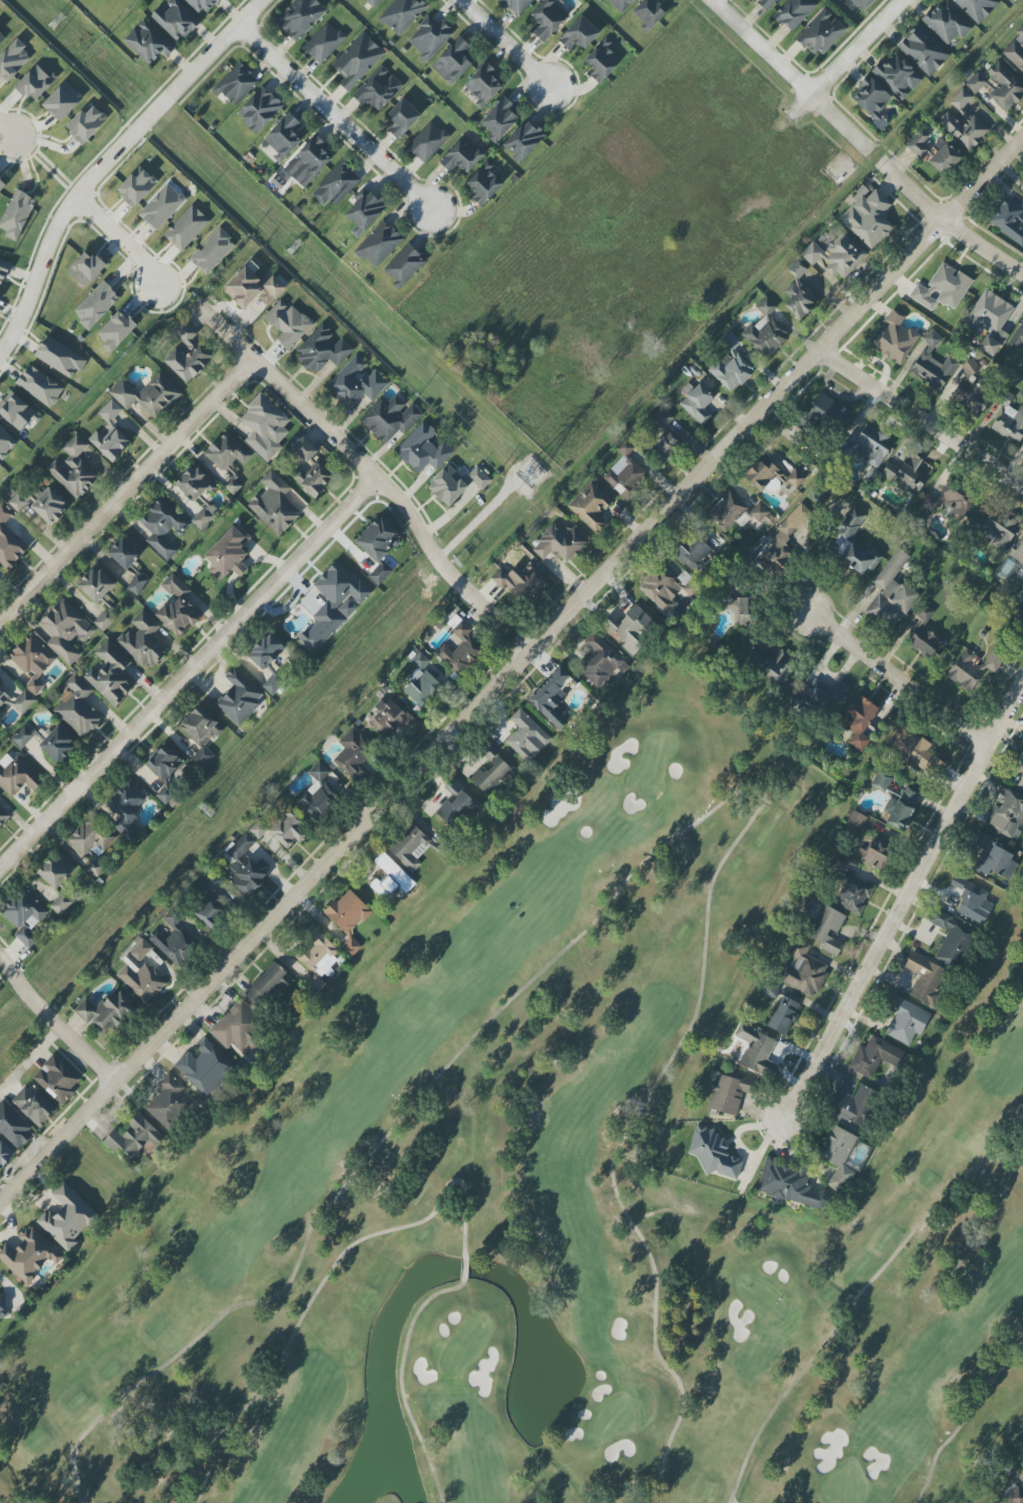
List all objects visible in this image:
building: (373, 2)
building: (620, 4)
building: (765, 4)
building: (863, 4)
building: (201, 5)
building: (517, 5)
building: (977, 8)
building: (649, 13)
building: (794, 13)
building: (401, 15)
building: (300, 17)
building: (549, 18)
building: (175, 20)
building: (947, 23)
power tower: (50, 24)
building: (580, 33)
building: (821, 33)
building: (429, 38)
building: (2, 39)
building: (148, 43)
building: (324, 43)
road: (503, 43)
building: (1016, 50)
building: (923, 51)
road: (846, 58)
building: (357, 60)
building: (13, 61)
building: (602, 61)
building: (452, 62)
road: (790, 74)
building: (897, 77)
building: (35, 83)
building: (483, 84)
building: (236, 85)
building: (998, 86)
building: (378, 89)
building: (62, 101)
building: (872, 101)
building: (259, 110)
building: (967, 115)
building: (403, 117)
road: (336, 118)
building: (499, 119)
building: (86, 123)
road: (7, 131)
building: (283, 137)
building: (523, 141)
building: (428, 142)
building: (918, 144)
building: (463, 155)
building: (945, 159)
road: (110, 161)
building: (308, 162)
building: (484, 184)
building: (2, 185)
building: (336, 185)
building: (136, 188)
building: (161, 207)
building: (364, 212)
building: (16, 215)
building: (868, 217)
building: (1008, 220)
road: (948, 224)
building: (186, 228)
road: (120, 239)
building: (379, 244)
power tower: (288, 249)
building: (212, 251)
building: (836, 255)
building: (404, 266)
building: (85, 269)
building: (796, 269)
building: (3, 271)
building: (252, 289)
building: (942, 289)
building: (799, 298)
building: (96, 305)
building: (990, 320)
building: (288, 324)
building: (766, 330)
building: (115, 331)
building: (894, 339)
building: (323, 349)
building: (198, 353)
building: (60, 357)
building: (932, 364)
building: (731, 365)
building: (356, 383)
building: (39, 386)
building: (970, 391)
building: (147, 395)
building: (696, 403)
building: (17, 411)
building: (829, 412)
building: (390, 418)
building: (663, 418)
road: (921, 419)
building: (1010, 424)
building: (265, 427)
building: (110, 433)
building: (5, 443)
building: (662, 447)
building: (422, 449)
building: (227, 459)
building: (73, 469)
building: (310, 469)
road: (369, 470)
building: (625, 472)
power tower: (529, 474)
building: (905, 474)
building: (772, 476)
building: (456, 484)
road: (126, 490)
building: (198, 495)
building: (951, 500)
building: (17, 504)
building: (274, 504)
building: (49, 507)
building: (590, 507)
building: (735, 512)
building: (162, 527)
building: (994, 529)
building: (378, 539)
building: (788, 539)
building: (9, 542)
building: (560, 543)
building: (852, 544)
building: (127, 551)
building: (229, 553)
building: (692, 554)
building: (1018, 554)
building: (380, 574)
building: (521, 581)
building: (136, 584)
building: (96, 585)
building: (661, 588)
building: (892, 593)
building: (1021, 602)
building: (334, 604)
building: (178, 607)
building: (742, 610)
building: (105, 620)
building: (630, 628)
building: (66, 630)
building: (926, 637)
building: (143, 641)
building: (462, 651)
building: (601, 660)
building: (32, 661)
building: (269, 661)
building: (770, 664)
building: (974, 666)
road: (511, 669)
road: (189, 673)
building: (110, 674)
road: (902, 680)
building: (421, 682)
building: (821, 693)
building: (3, 696)
building: (551, 697)
building: (239, 698)
building: (21, 702)
building: (77, 707)
building: (1, 719)
building: (391, 720)
building: (862, 722)
building: (200, 734)
building: (22, 737)
building: (526, 737)
building: (58, 745)
building: (915, 752)
building: (353, 755)
building: (1021, 755)
building: (168, 771)
building: (491, 772)
building: (16, 775)
building: (880, 782)
building: (1020, 784)
building: (318, 792)
building: (903, 808)
building: (126, 809)
building: (458, 811)
power tower: (209, 812)
building: (1007, 814)
building: (3, 816)
building: (856, 820)
building: (258, 829)
building: (289, 830)
building: (88, 838)
road: (667, 844)
building: (410, 847)
building: (875, 852)
building: (992, 857)
building: (246, 866)
building: (95, 868)
building: (56, 870)
building: (390, 877)
building: (850, 888)
building: (971, 900)
building: (210, 903)
building: (61, 904)
road: (902, 915)
building: (24, 916)
building: (348, 918)
building: (824, 926)
building: (951, 938)
building: (175, 941)
building: (317, 958)
building: (803, 970)
building: (140, 973)
building: (926, 979)
building: (270, 984)
building: (106, 1012)
building: (784, 1016)
building: (906, 1021)
road: (54, 1022)
building: (237, 1027)
building: (754, 1047)
building: (875, 1057)
road: (30, 1060)
building: (205, 1068)
building: (56, 1080)
building: (729, 1093)
building: (169, 1102)
building: (851, 1105)
building: (32, 1106)
building: (13, 1127)
building: (134, 1137)
building: (713, 1153)
building: (5, 1154)
building: (839, 1157)
building: (788, 1185)
park: (553, 1198)
building: (67, 1217)
building: (28, 1255)
road: (464, 1269)
road: (326, 1285)
road: (862, 1297)
building: (2, 1307)
road: (402, 1384)
road: (962, 1423)
building: (1021, 1478)
building: (1015, 1496)
road: (731, 1502)
road: (733, 1502)

